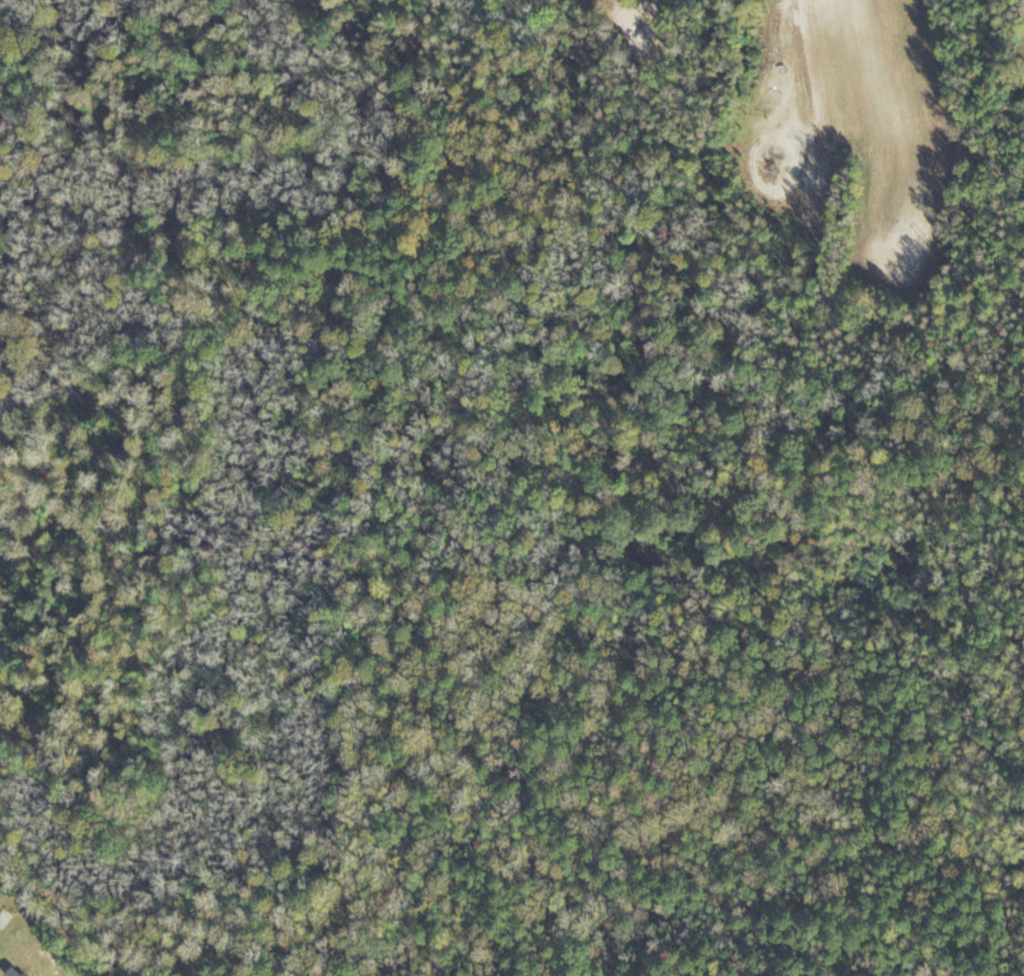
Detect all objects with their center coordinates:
building: (18, 972)

